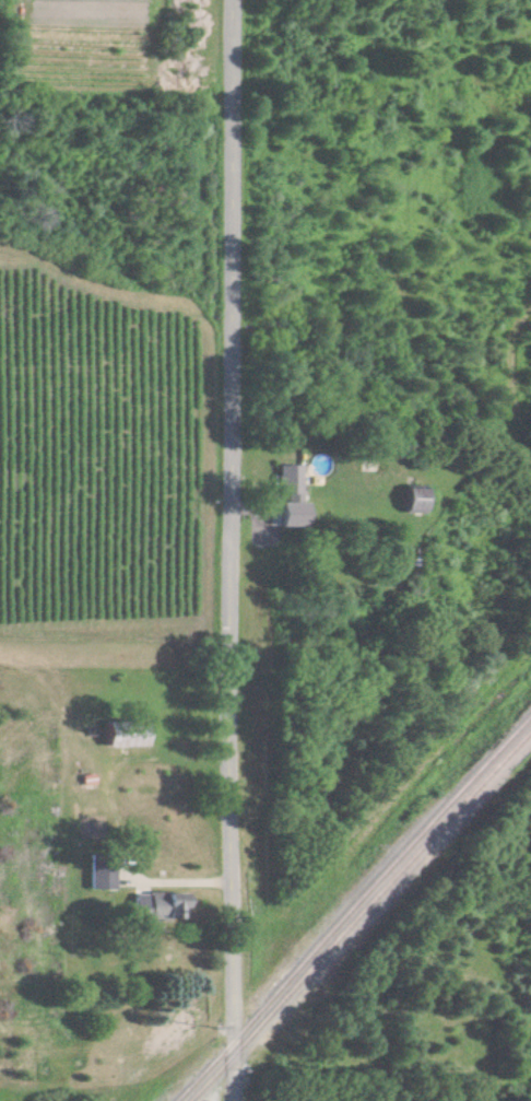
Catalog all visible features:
building: (290, 497)
building: (414, 500)
road: (234, 550)
building: (101, 880)
railway: (352, 907)
railway: (358, 914)

